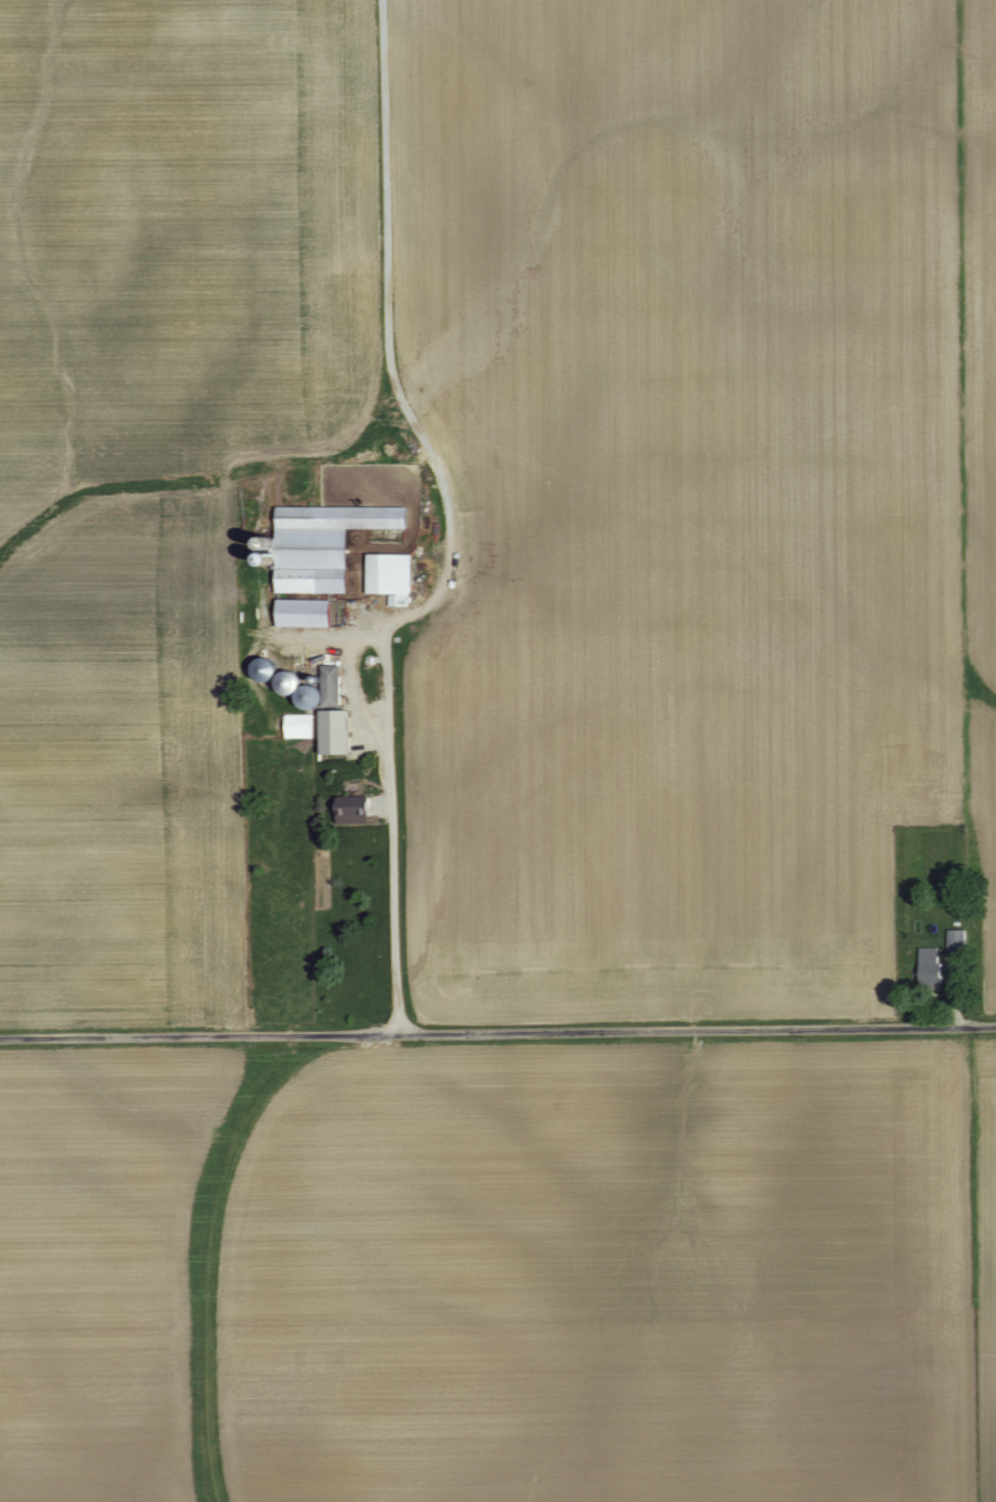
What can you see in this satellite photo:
road: (388, 387)
building: (319, 544)
building: (388, 577)
building: (299, 613)
road: (351, 696)
building: (319, 730)
building: (346, 813)
road: (385, 829)
building: (954, 901)
building: (951, 941)
building: (927, 965)
road: (951, 990)
road: (498, 1031)

